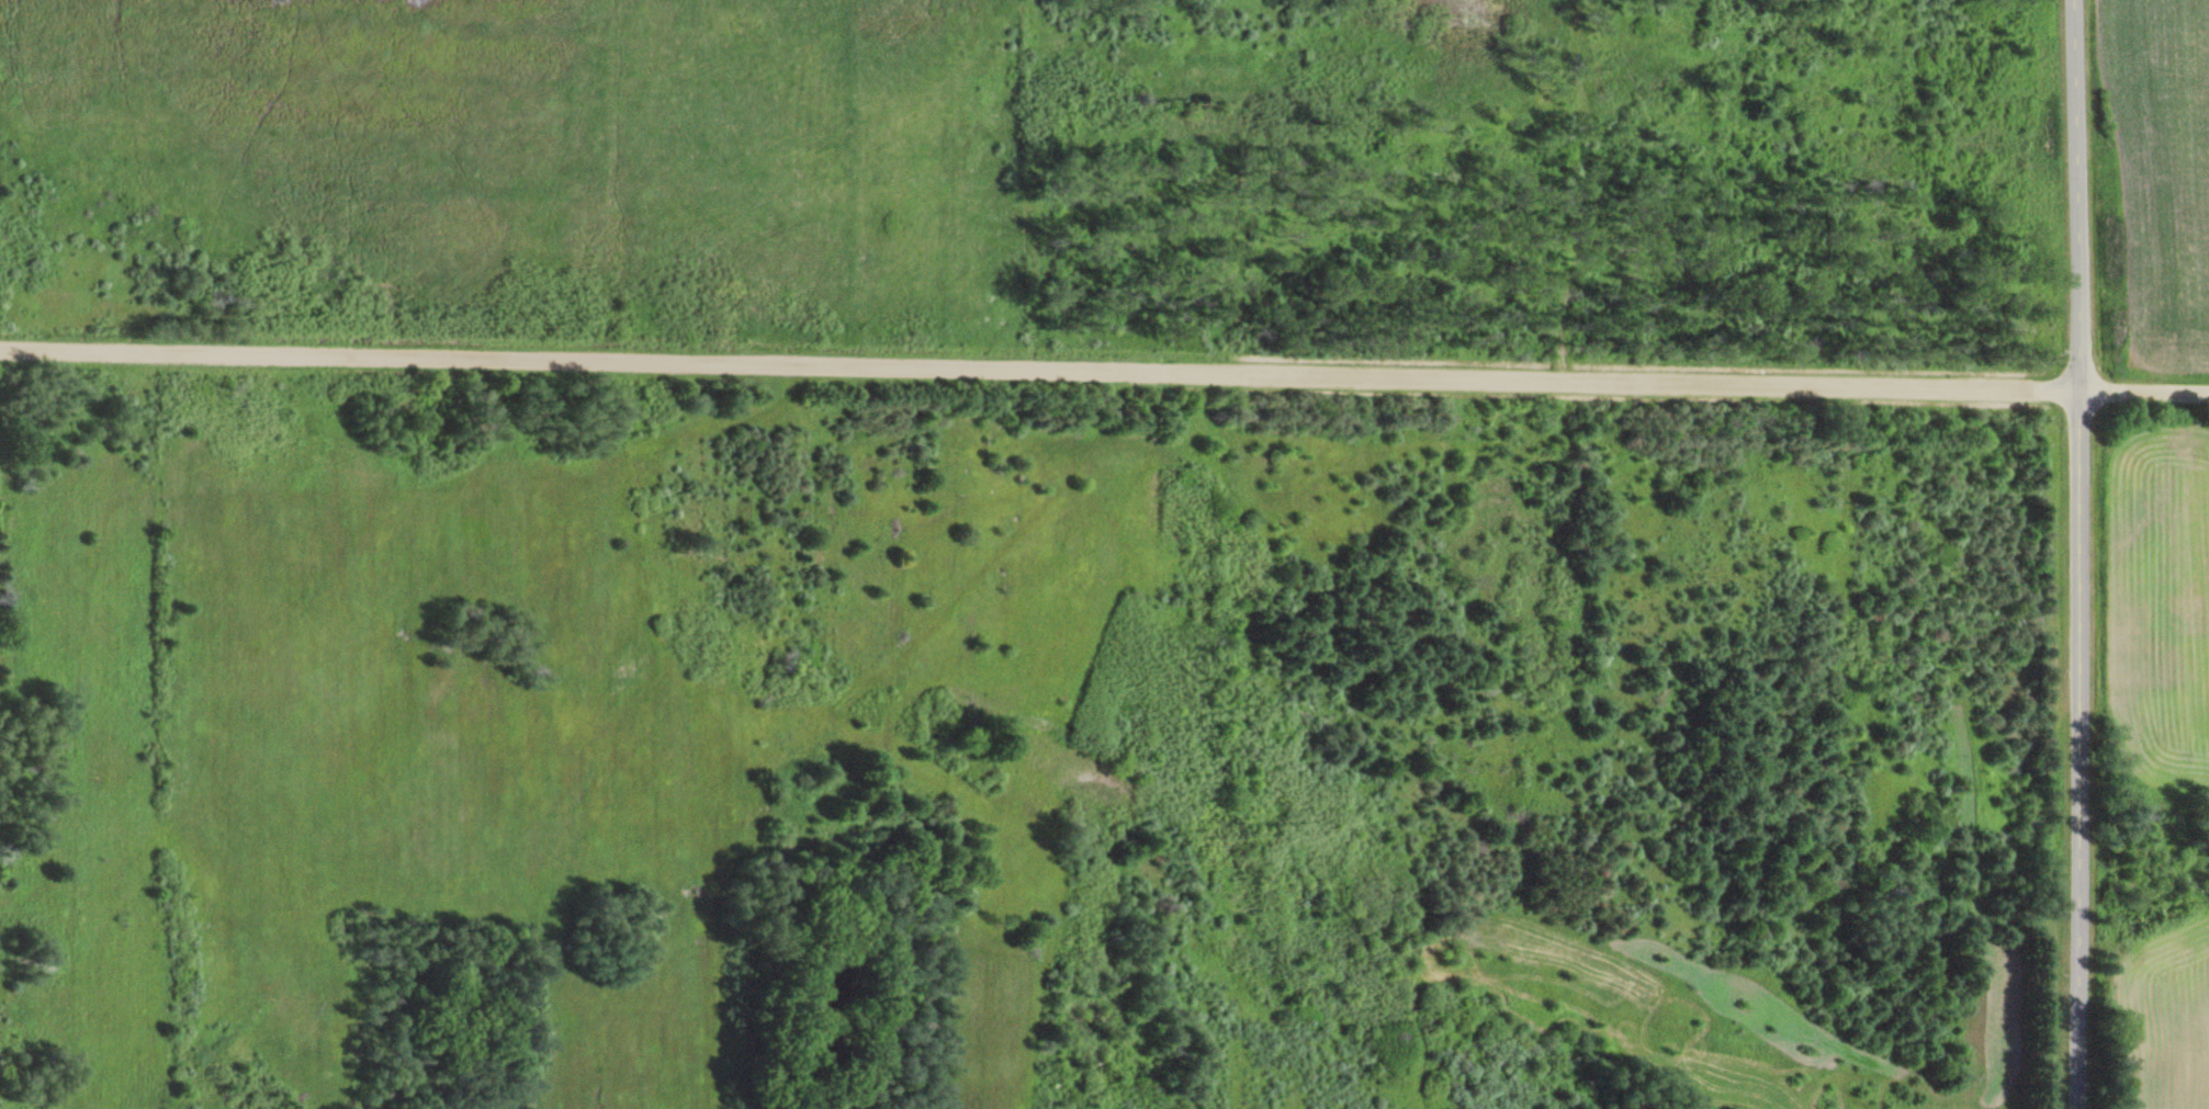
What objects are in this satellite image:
road: (1104, 371)
road: (2080, 554)

